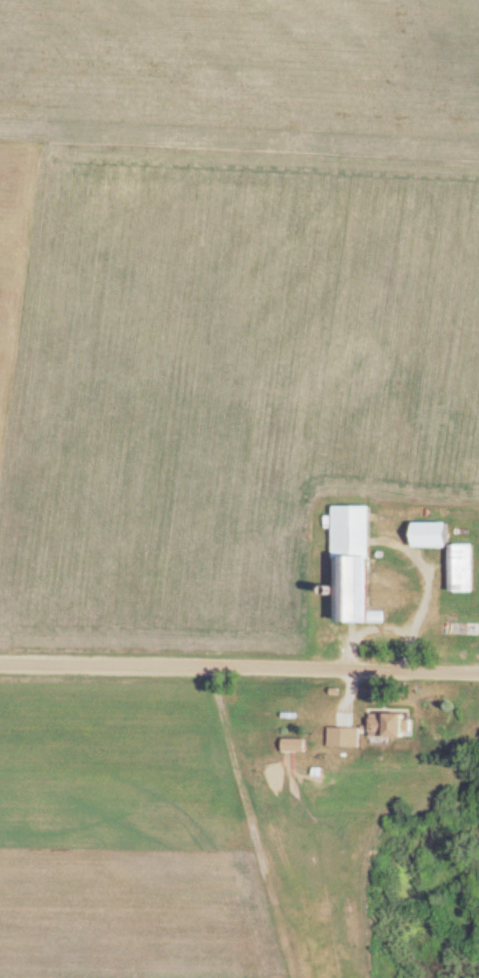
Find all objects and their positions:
building: (359, 565)
road: (239, 672)
building: (393, 728)
building: (348, 739)
building: (298, 748)

